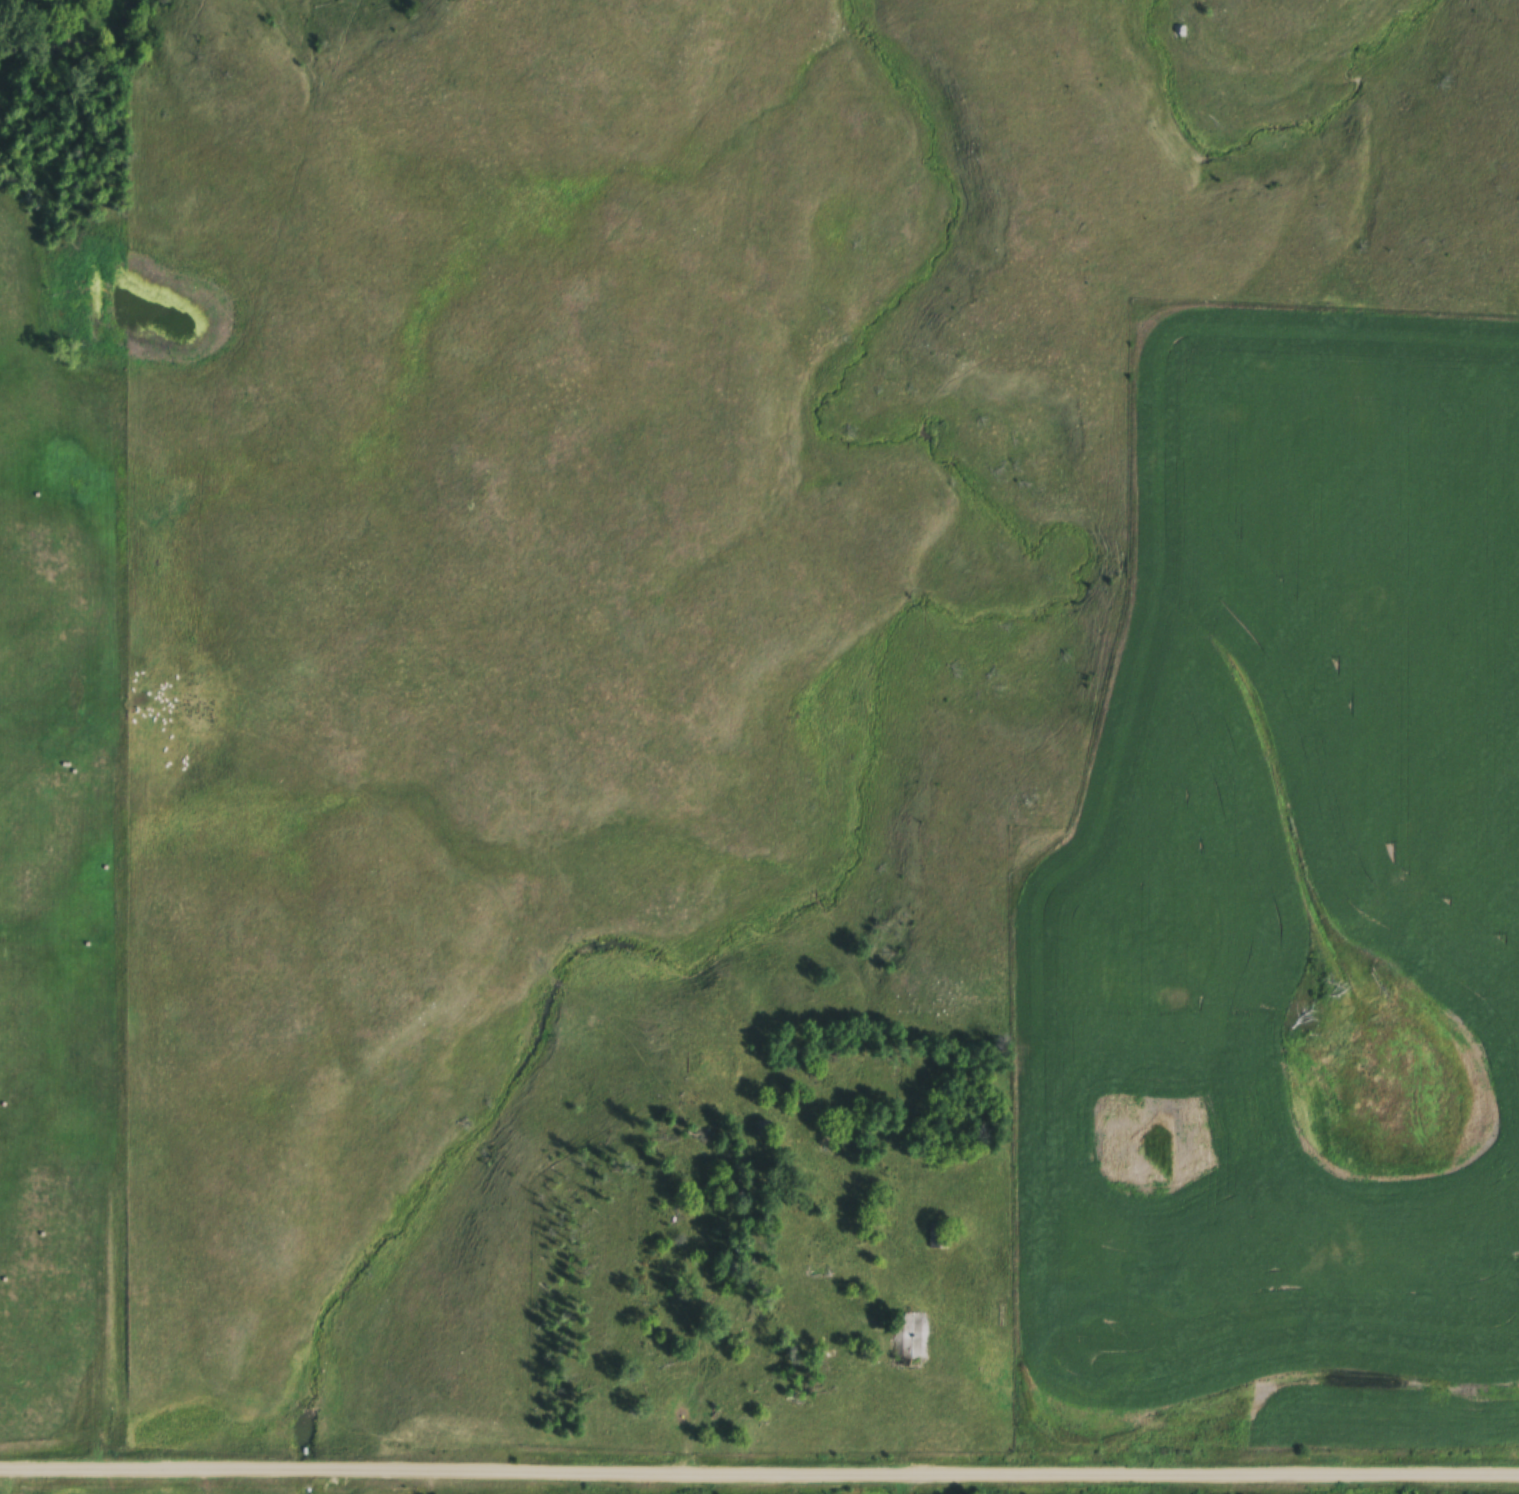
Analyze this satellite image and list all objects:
building: (933, 1237)
building: (729, 1267)
building: (907, 1343)
road: (745, 1351)
road: (759, 1471)

